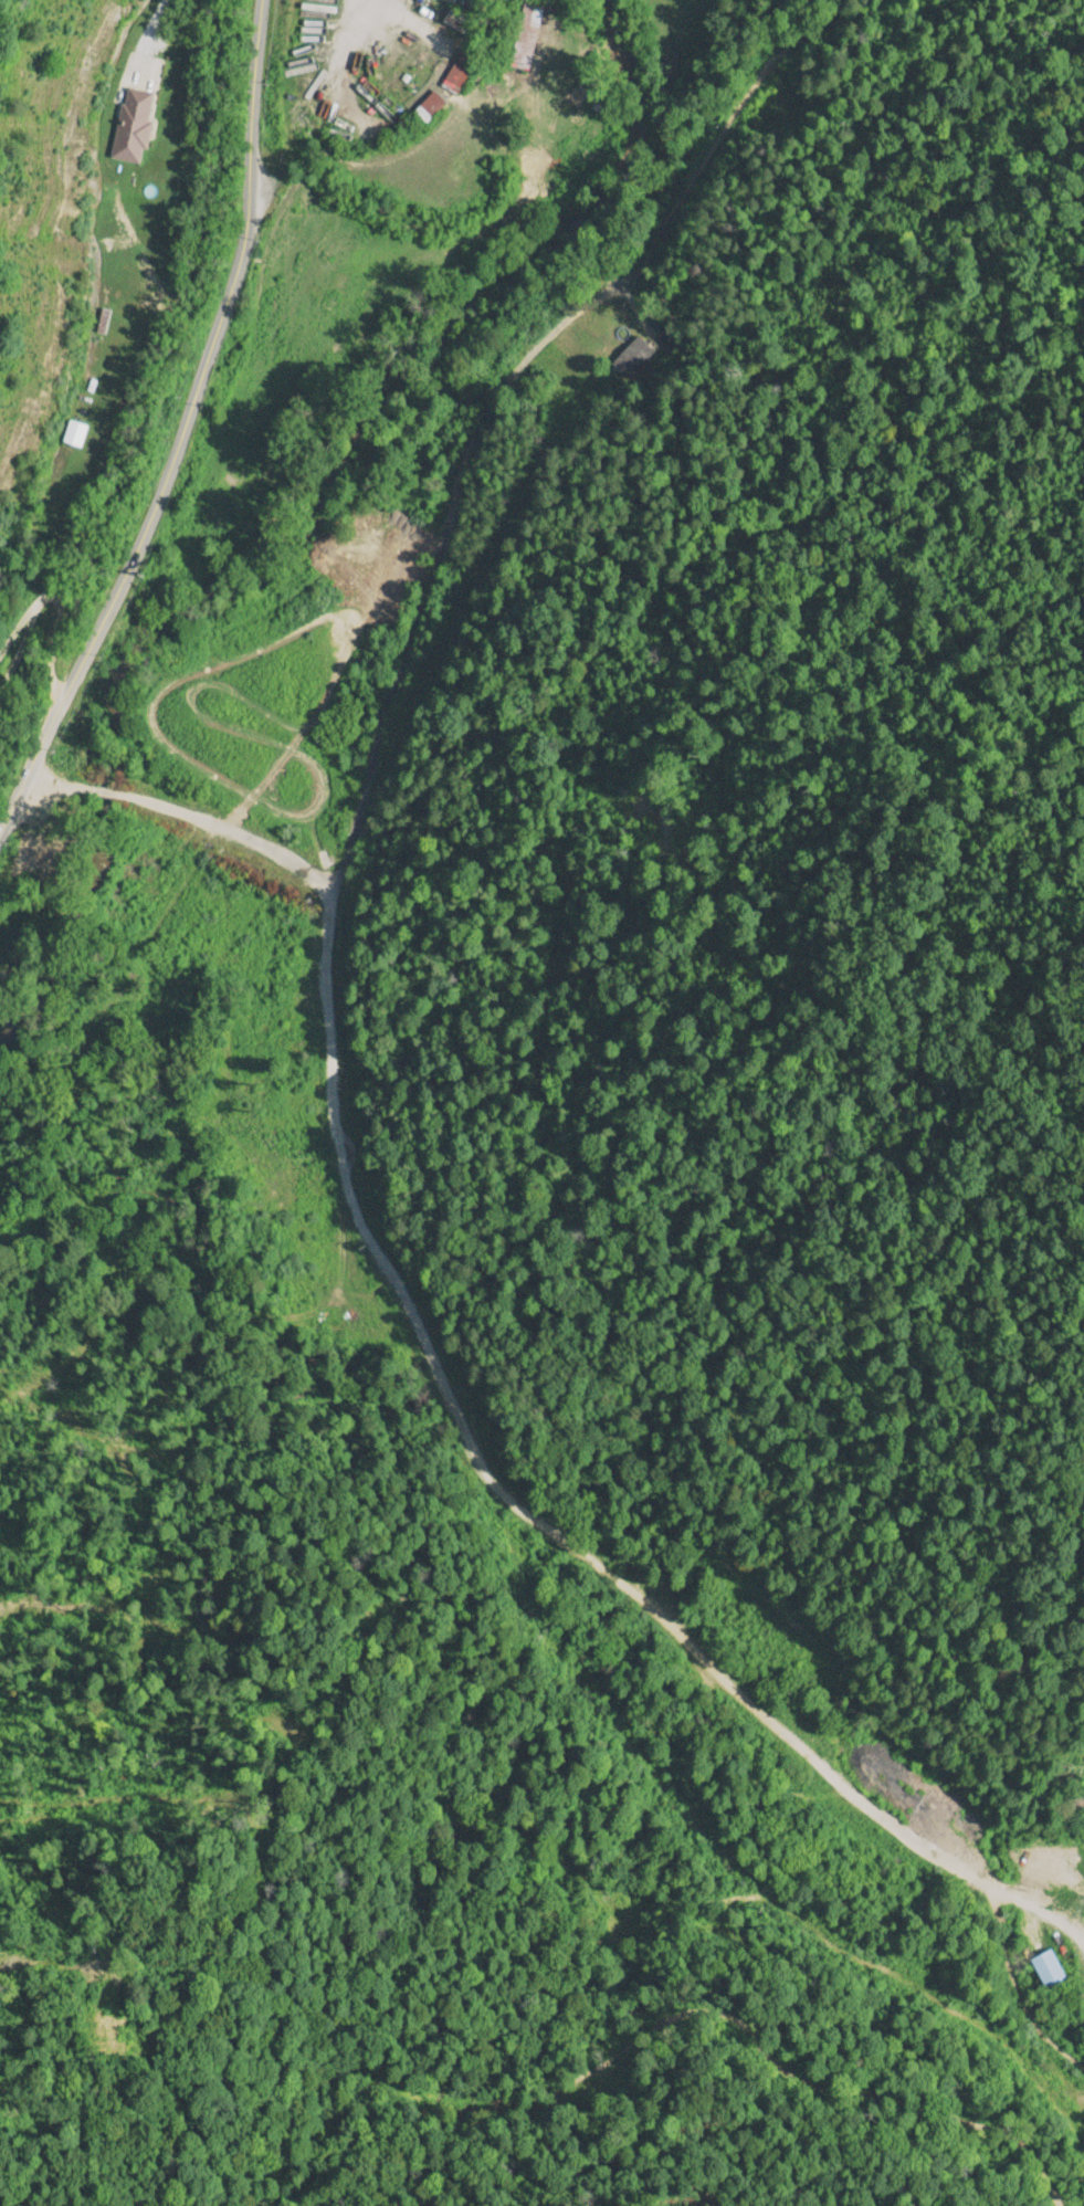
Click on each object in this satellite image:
road: (178, 393)
road: (19, 497)
road: (204, 755)
road: (232, 1325)

